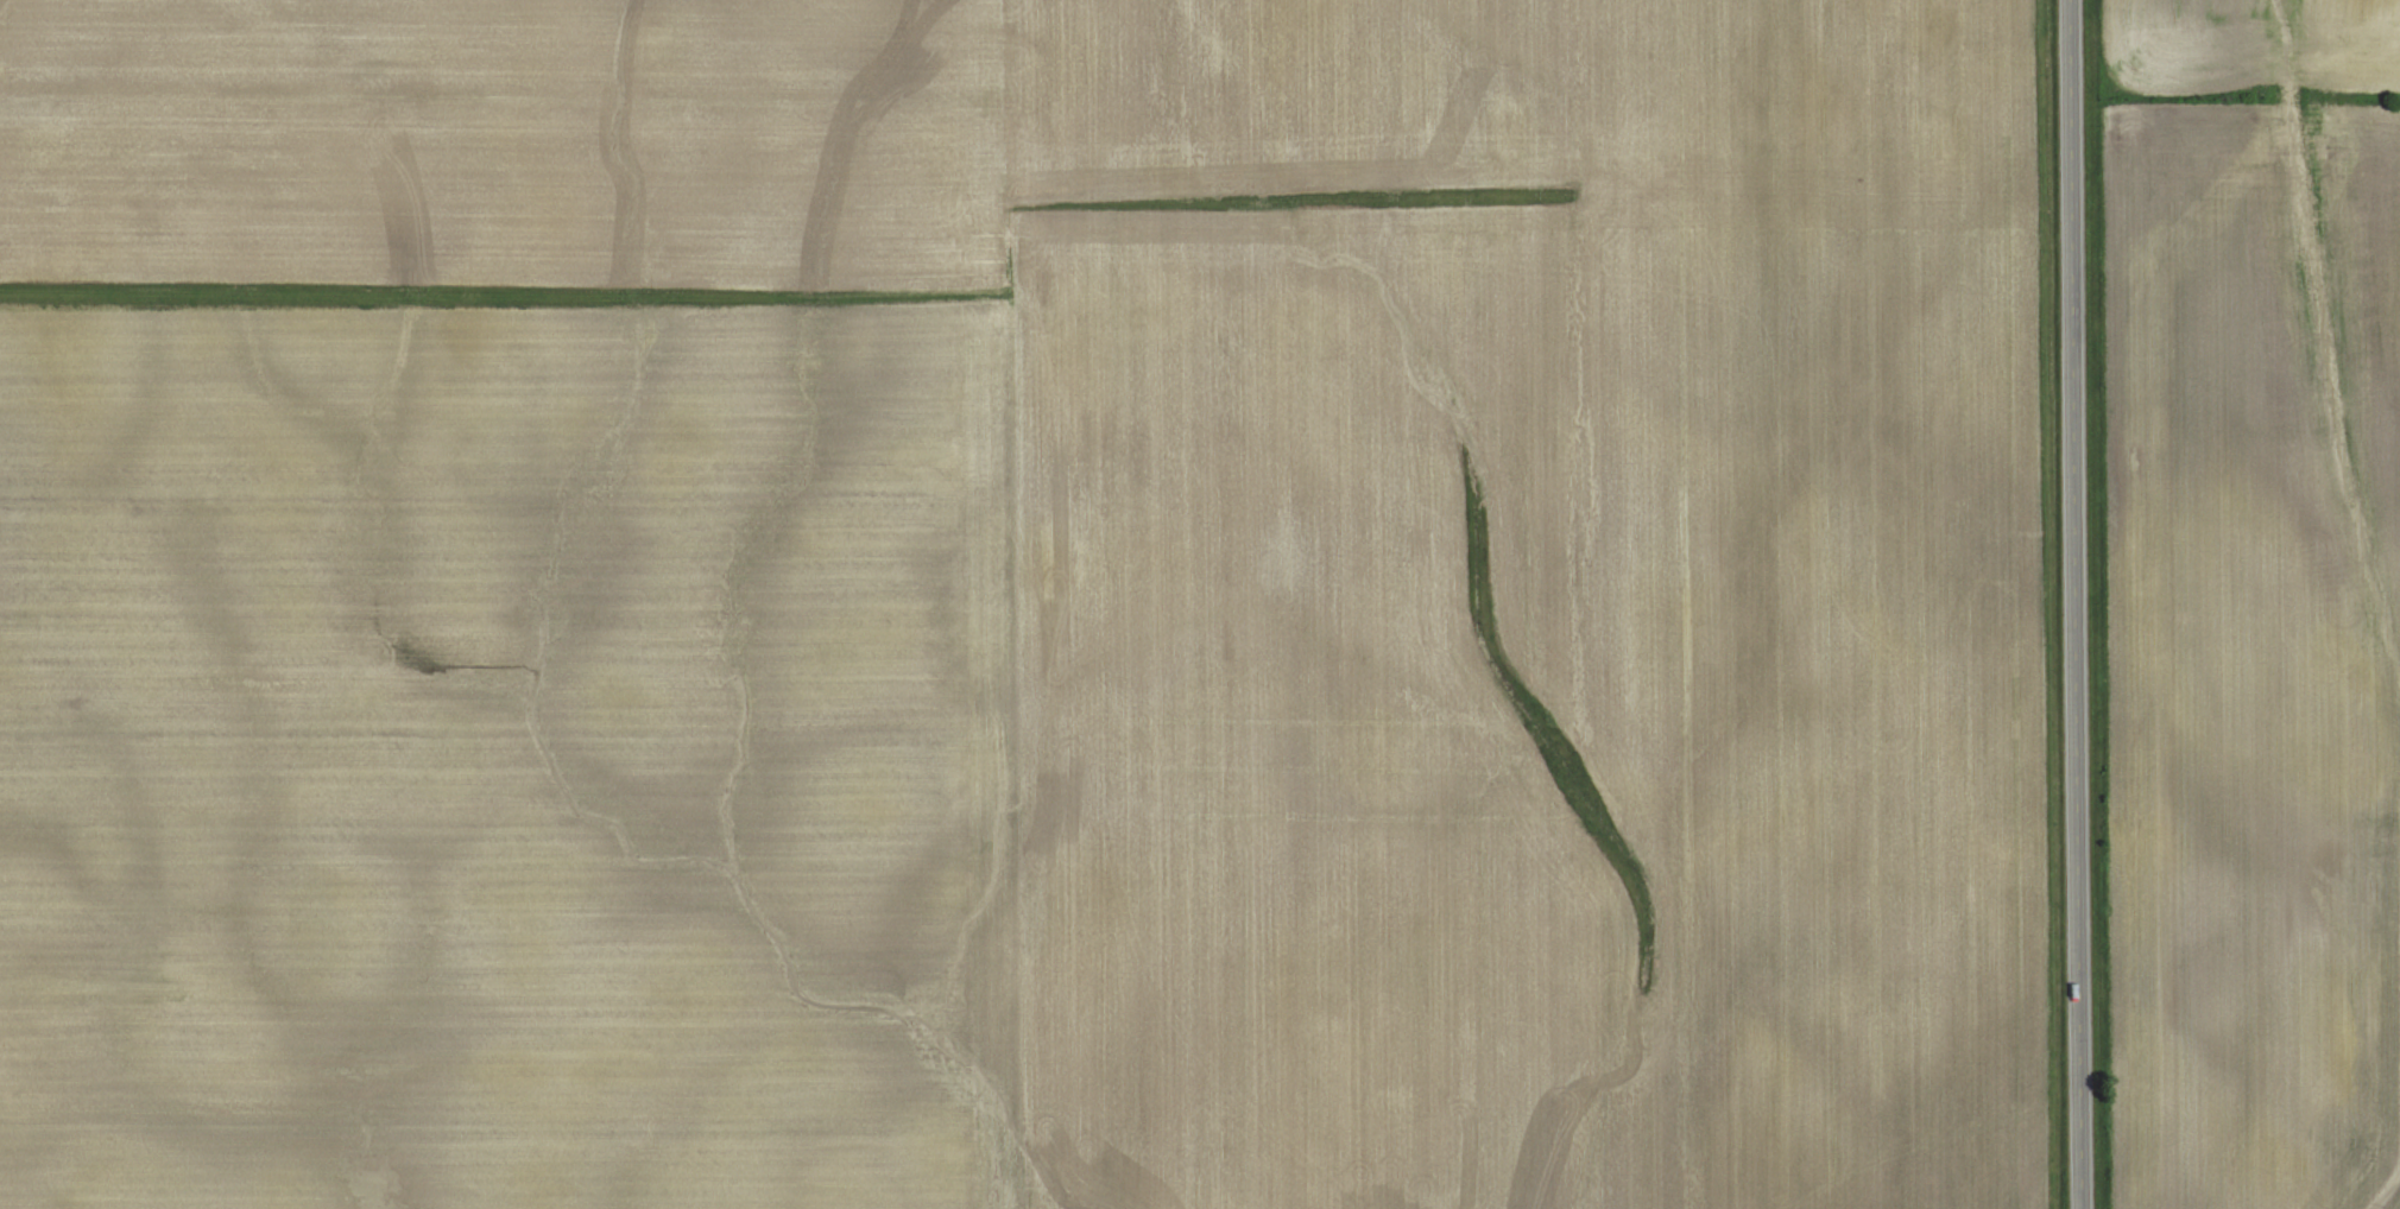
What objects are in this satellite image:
road: (2080, 604)

